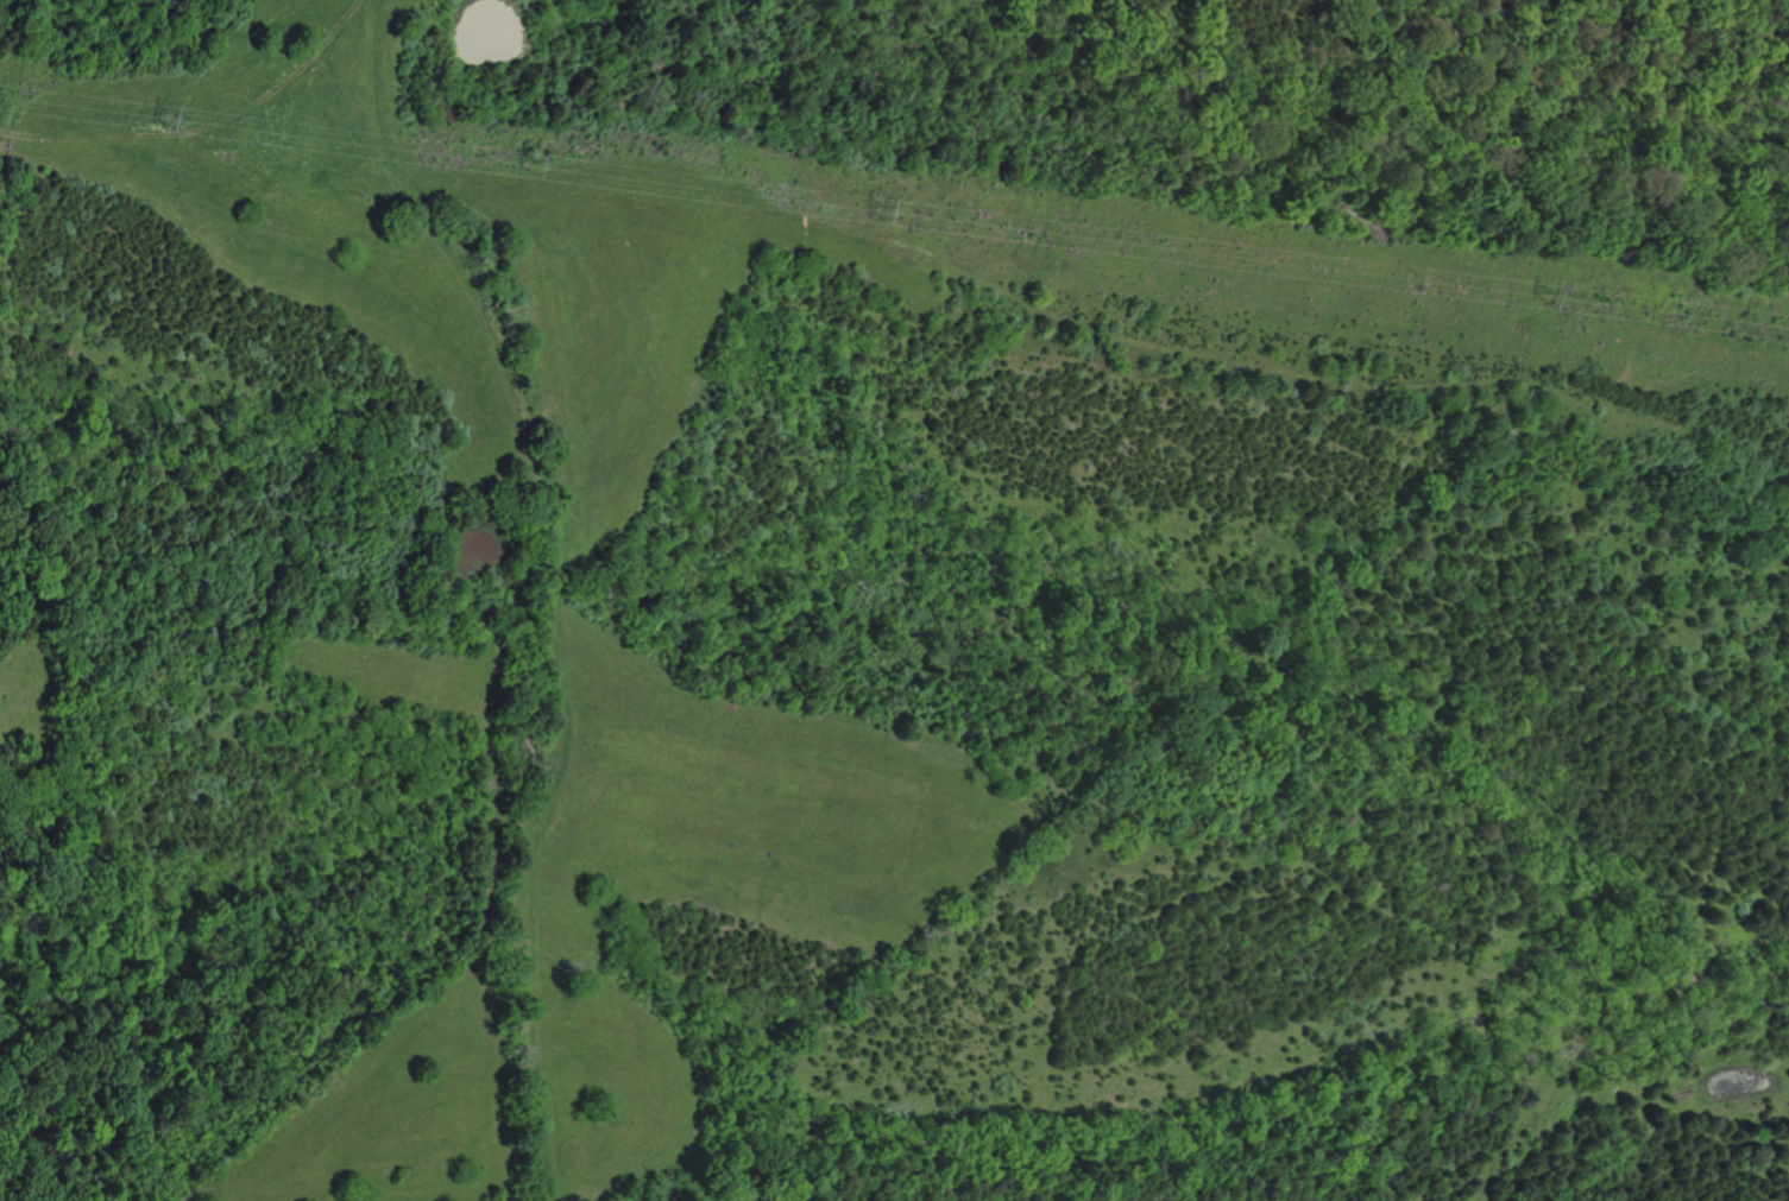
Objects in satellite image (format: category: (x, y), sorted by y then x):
power tower: (169, 126)
power tower: (527, 175)
power tower: (877, 210)
power tower: (1541, 299)
road: (517, 593)

